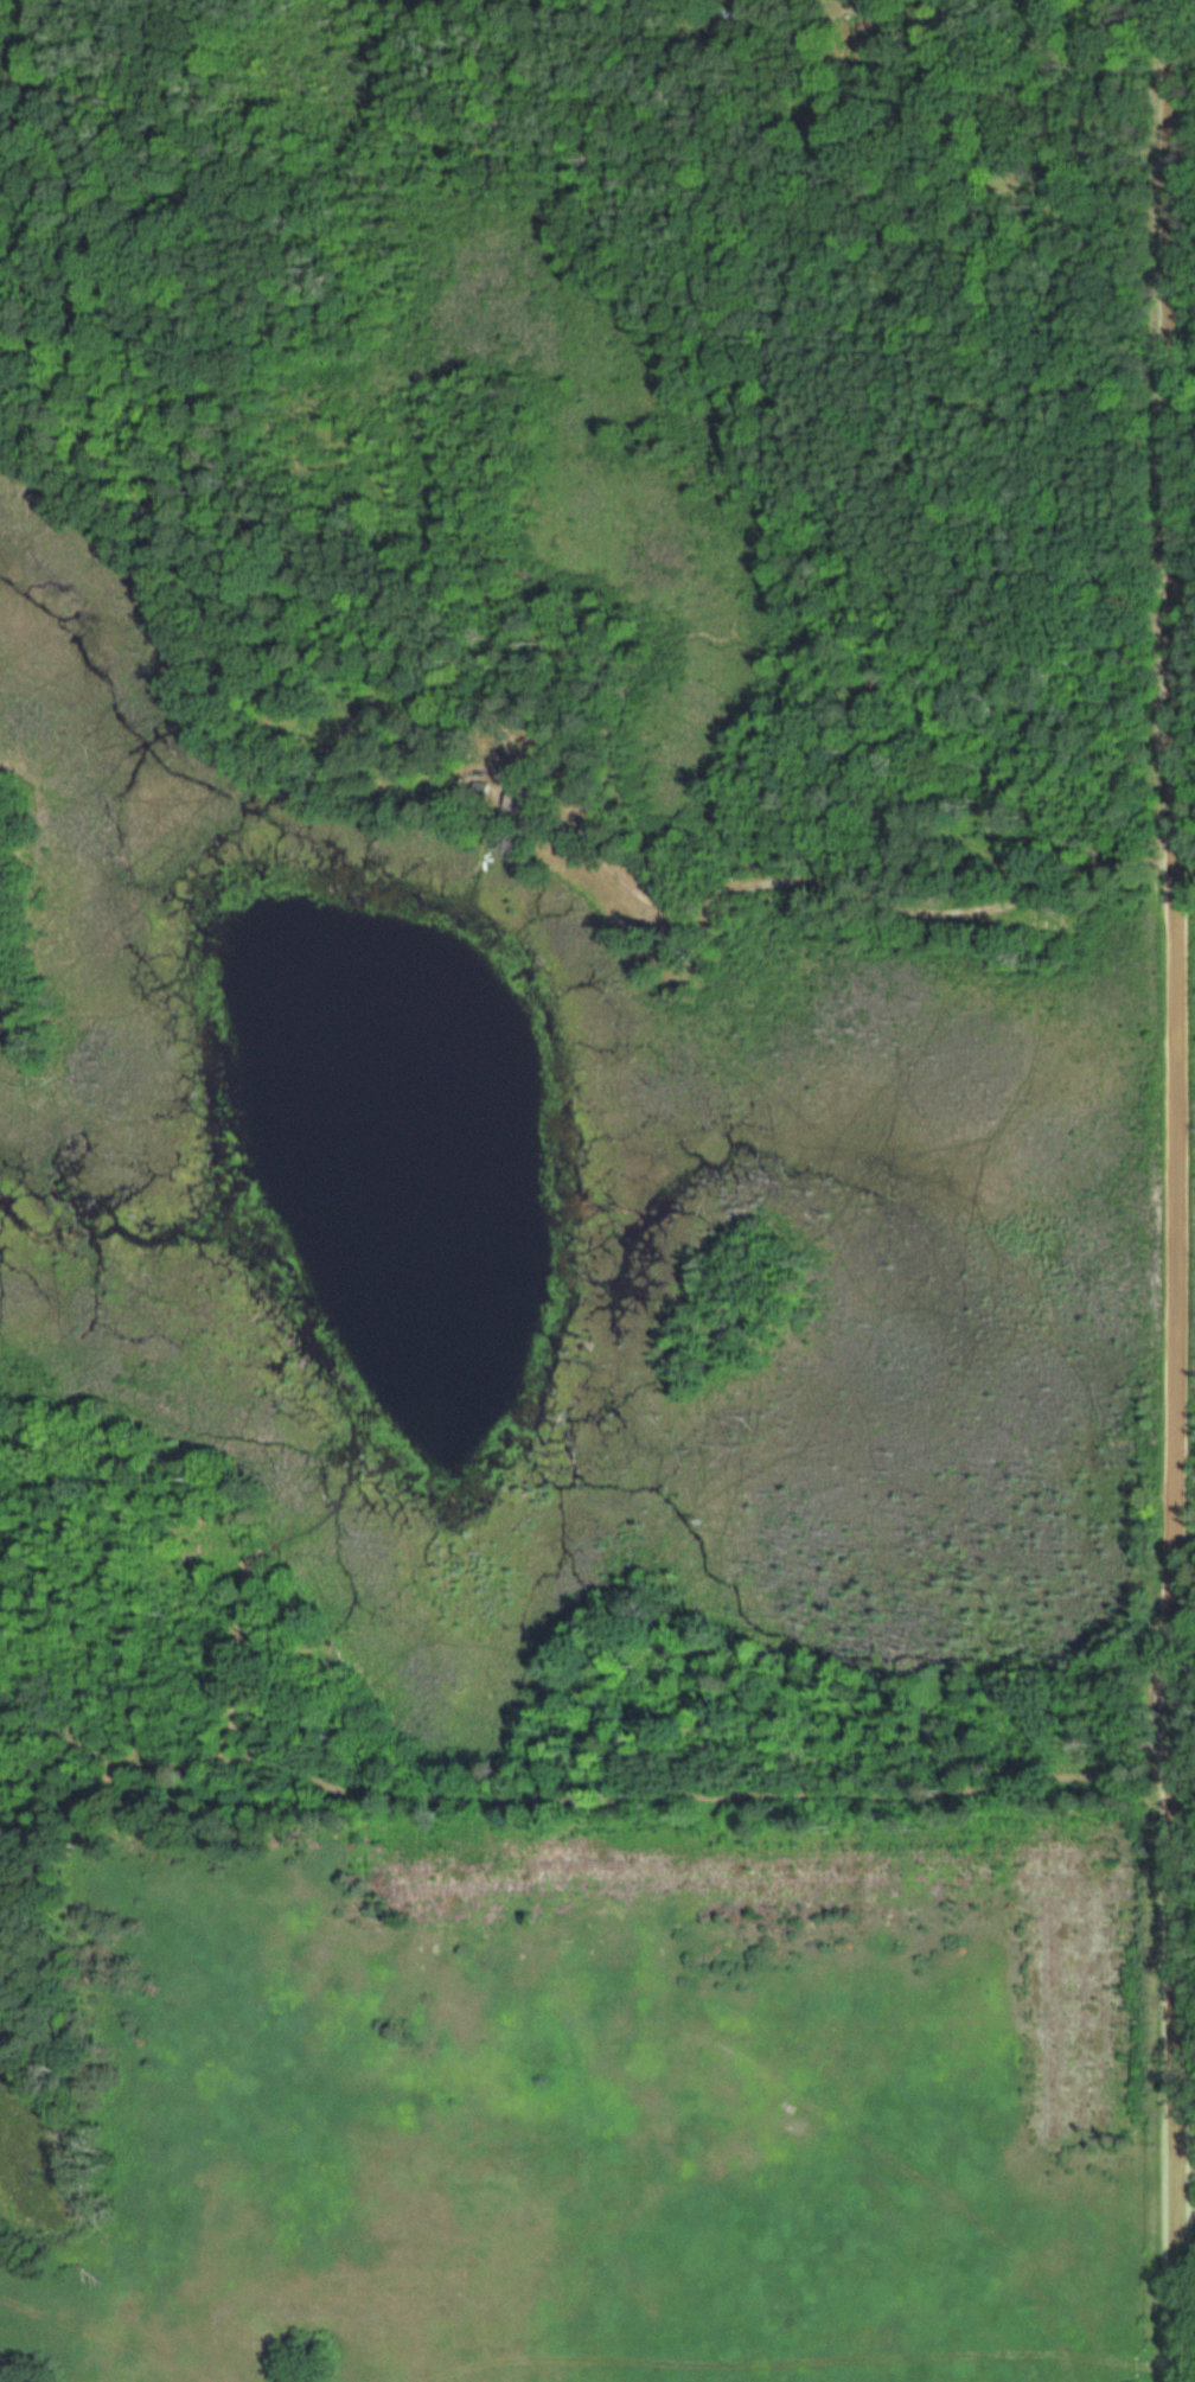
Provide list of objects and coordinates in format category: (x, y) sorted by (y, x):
road: (836, 889)
road: (1171, 1190)
road: (576, 1790)

